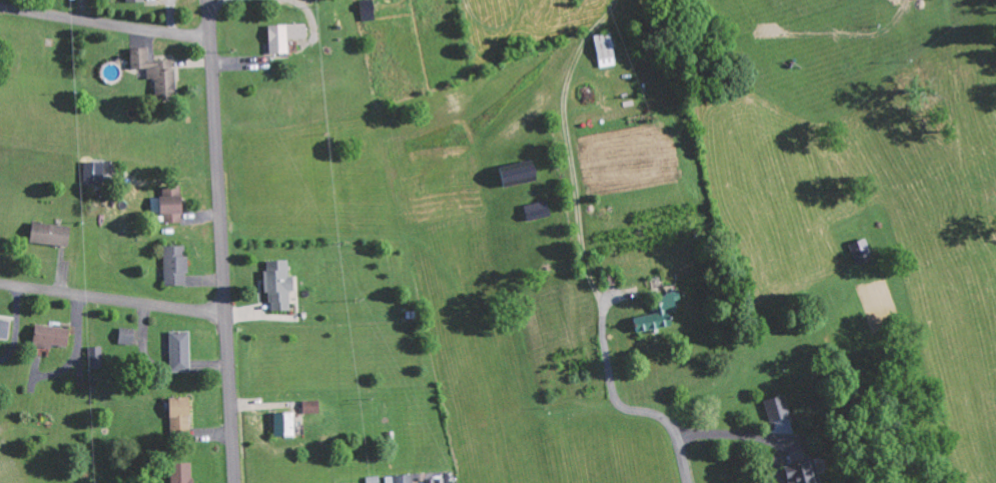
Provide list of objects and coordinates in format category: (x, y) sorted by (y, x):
building: (136, 1)
road: (106, 24)
building: (285, 36)
building: (606, 50)
building: (95, 172)
building: (169, 208)
building: (51, 234)
road: (223, 241)
building: (177, 266)
building: (279, 286)
road: (113, 300)
building: (660, 314)
building: (5, 329)
building: (52, 336)
building: (127, 336)
building: (181, 351)
building: (96, 358)
building: (312, 407)
road: (629, 409)
building: (779, 409)
building: (181, 415)
building: (285, 425)
building: (806, 472)
building: (184, 473)

